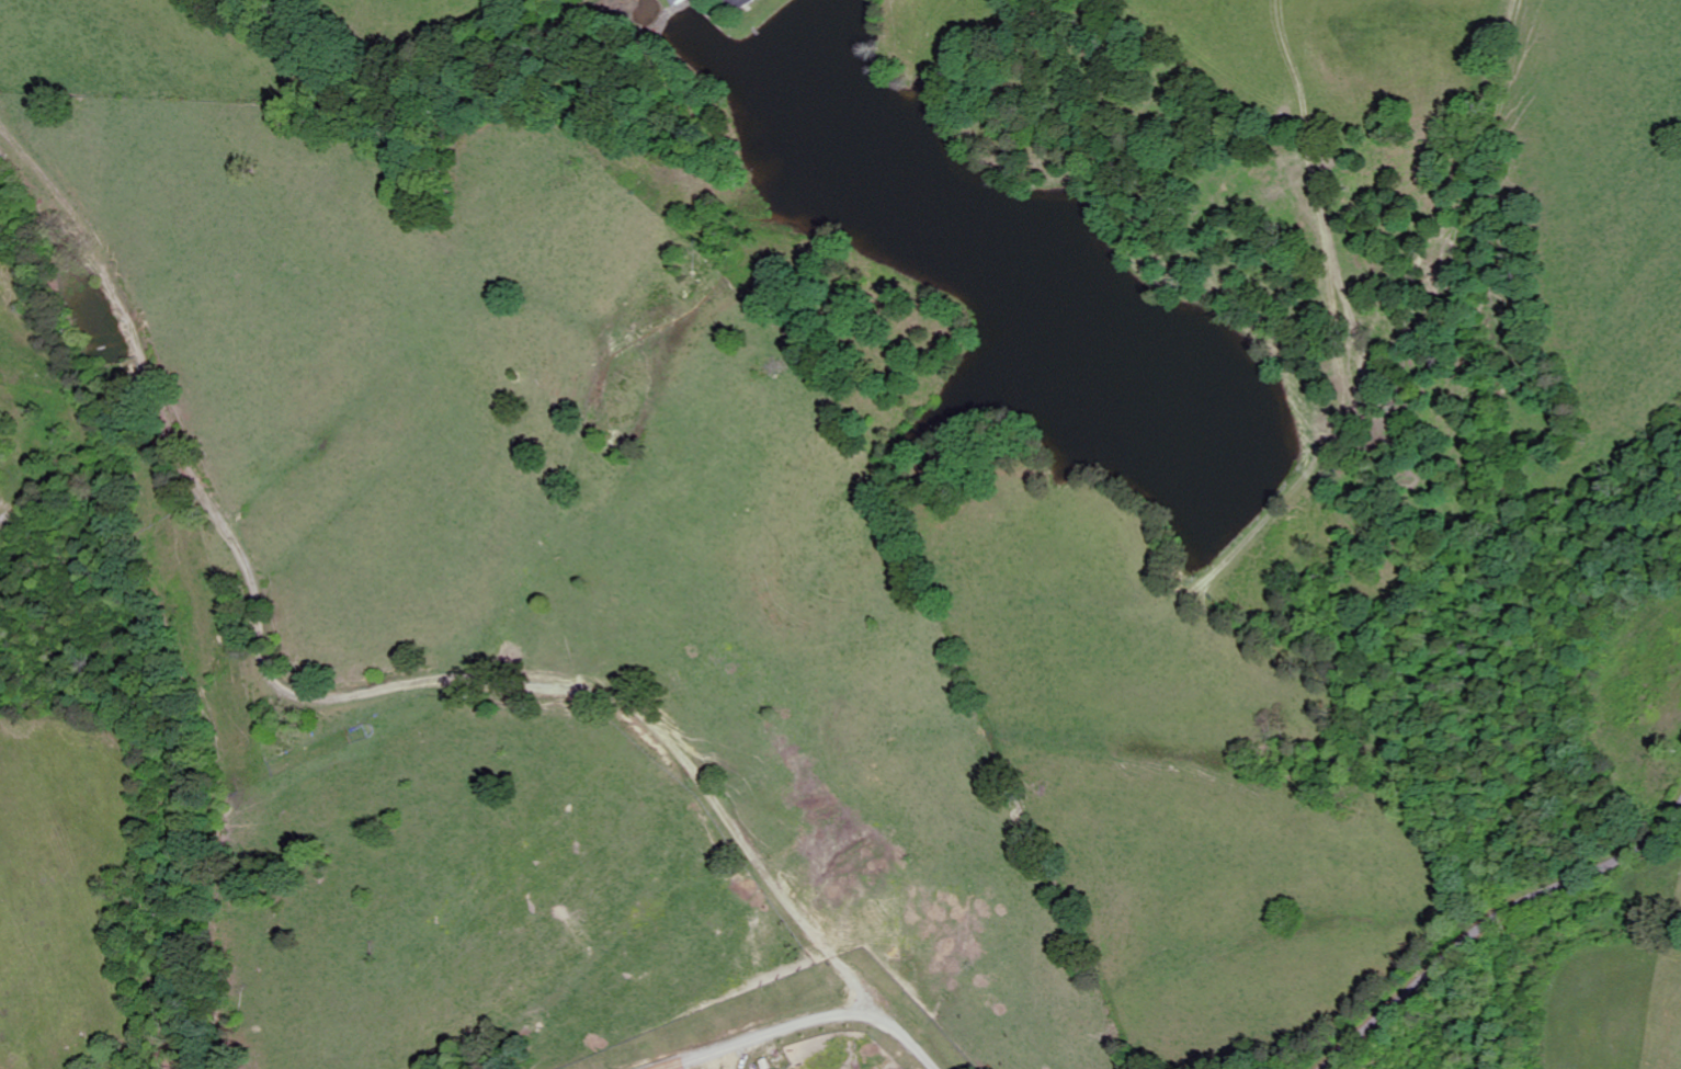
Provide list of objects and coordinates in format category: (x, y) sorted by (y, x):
building: (674, 1)
building: (741, 3)
road: (1513, 931)
road: (806, 1024)

